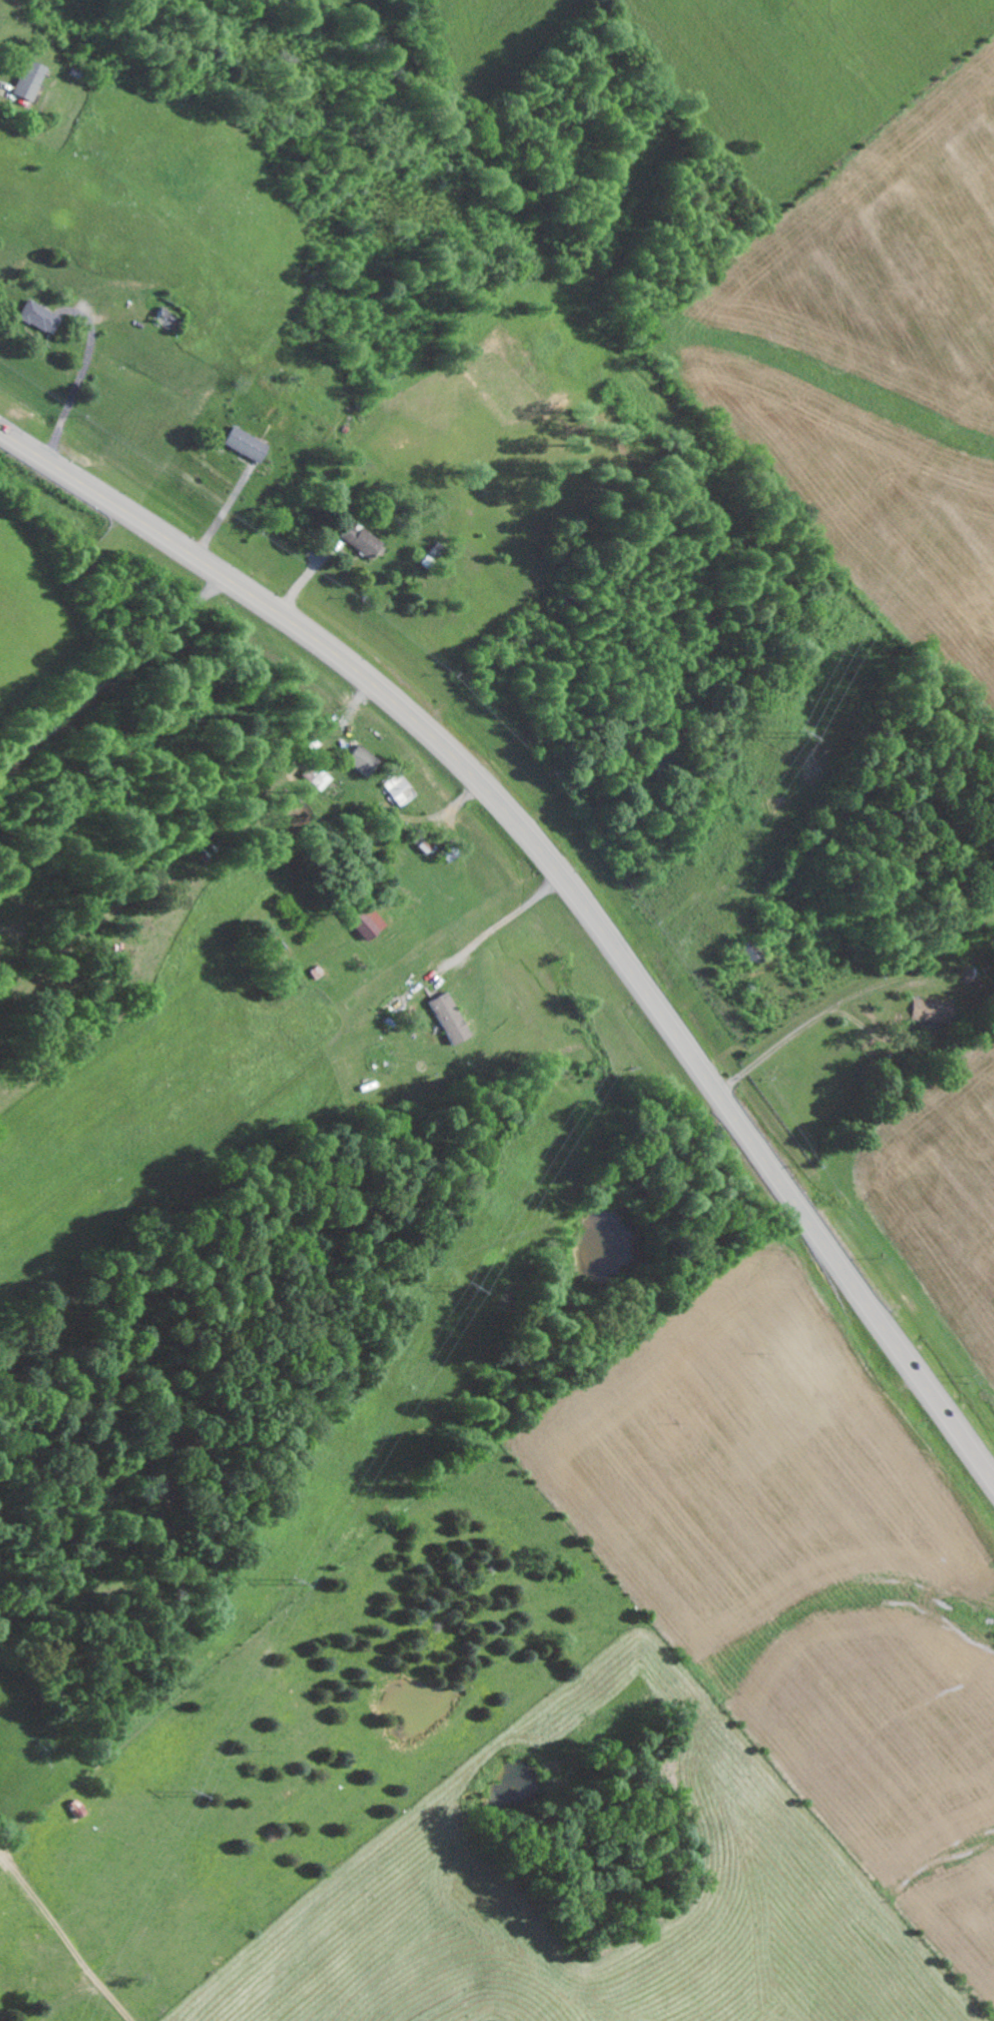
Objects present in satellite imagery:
building: (33, 80)
building: (43, 317)
building: (241, 443)
building: (361, 541)
road: (636, 723)
power tower: (792, 742)
building: (356, 758)
building: (317, 776)
road: (569, 886)
building: (361, 919)
building: (444, 1017)
power tower: (465, 1285)
power tower: (289, 1582)
power tower: (191, 1793)

